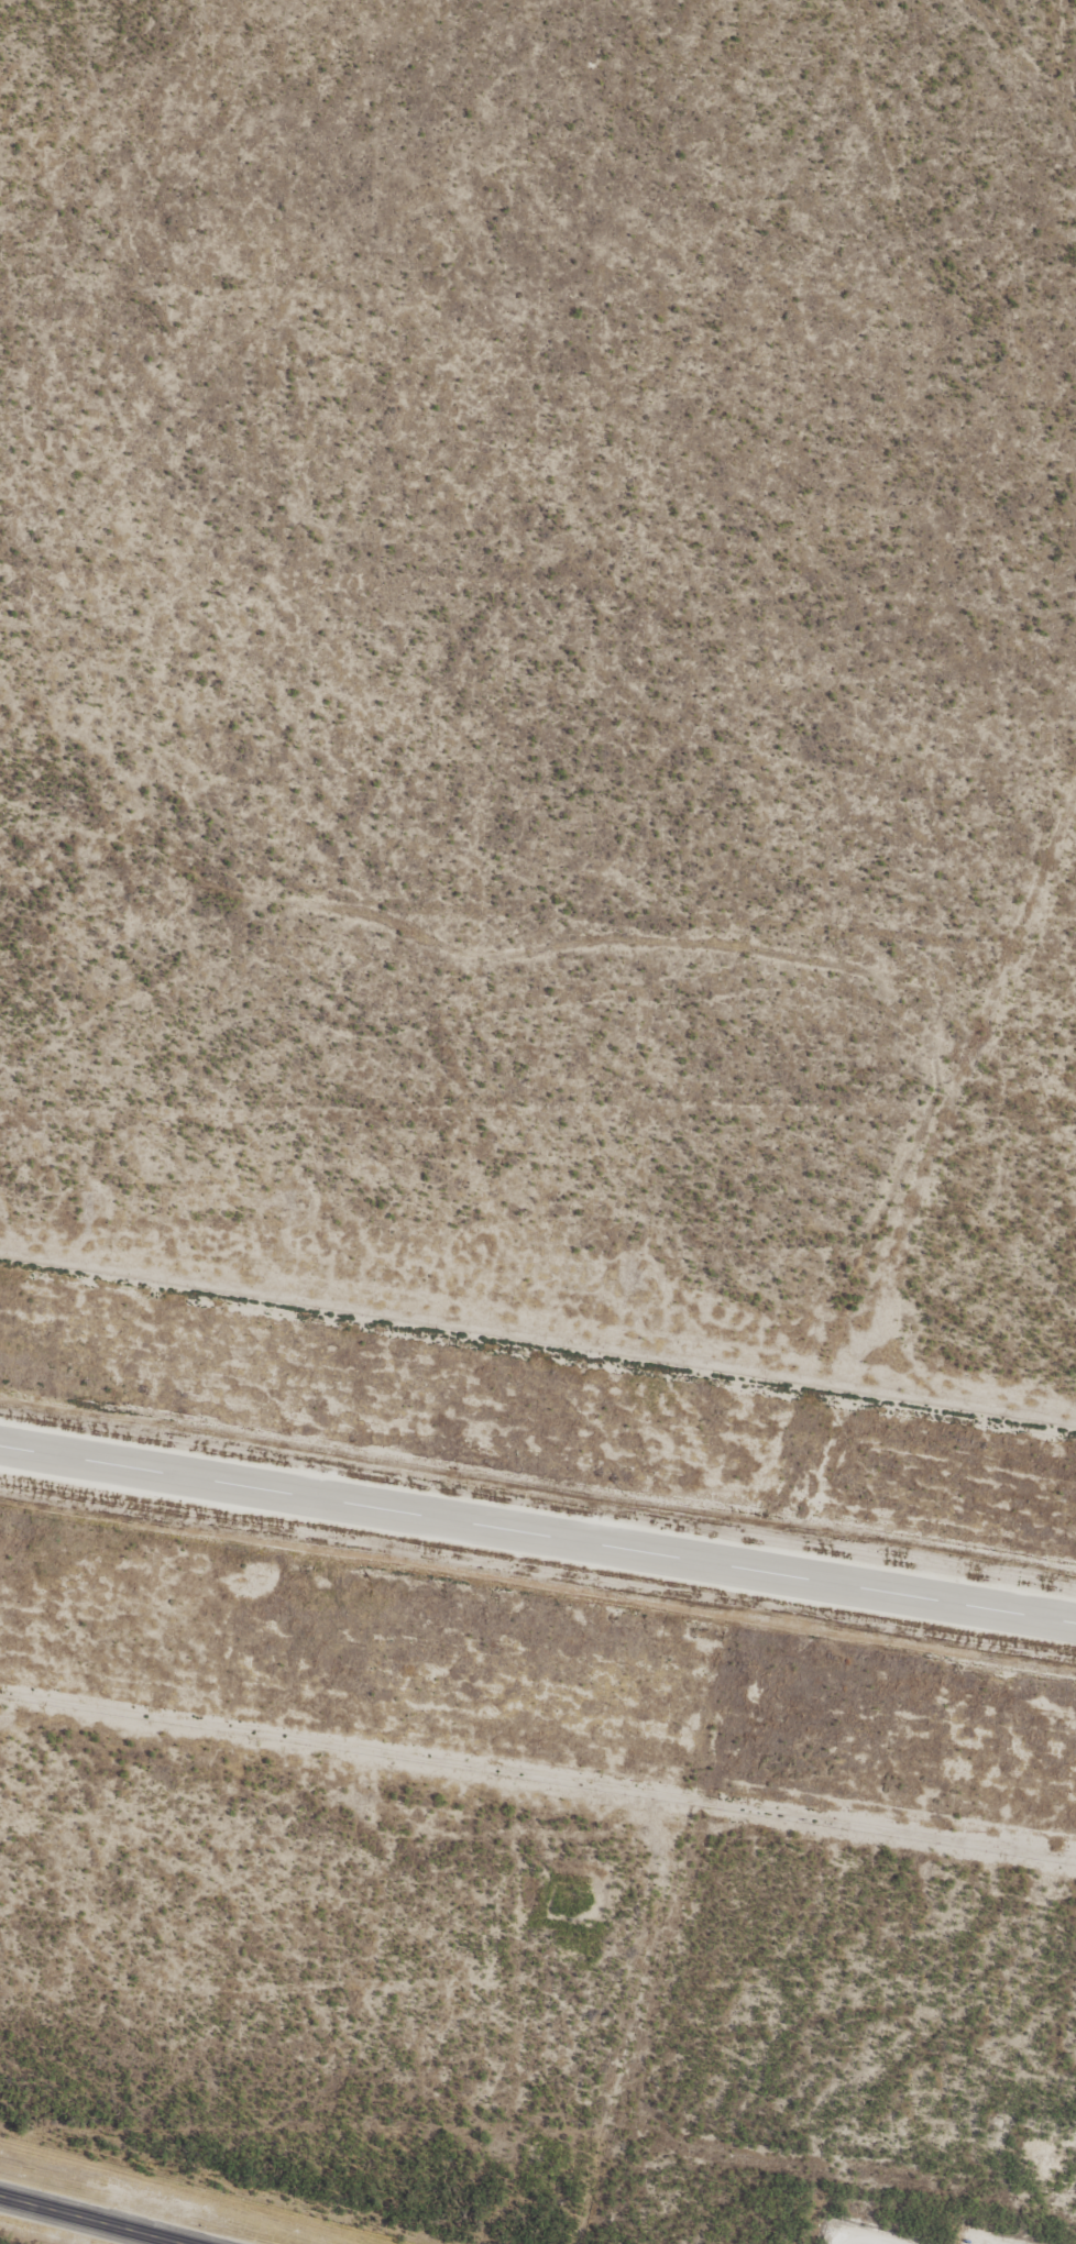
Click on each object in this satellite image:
road: (28, 783)
airport runway: (538, 1529)
airport: (536, 1552)
road: (67, 2225)

